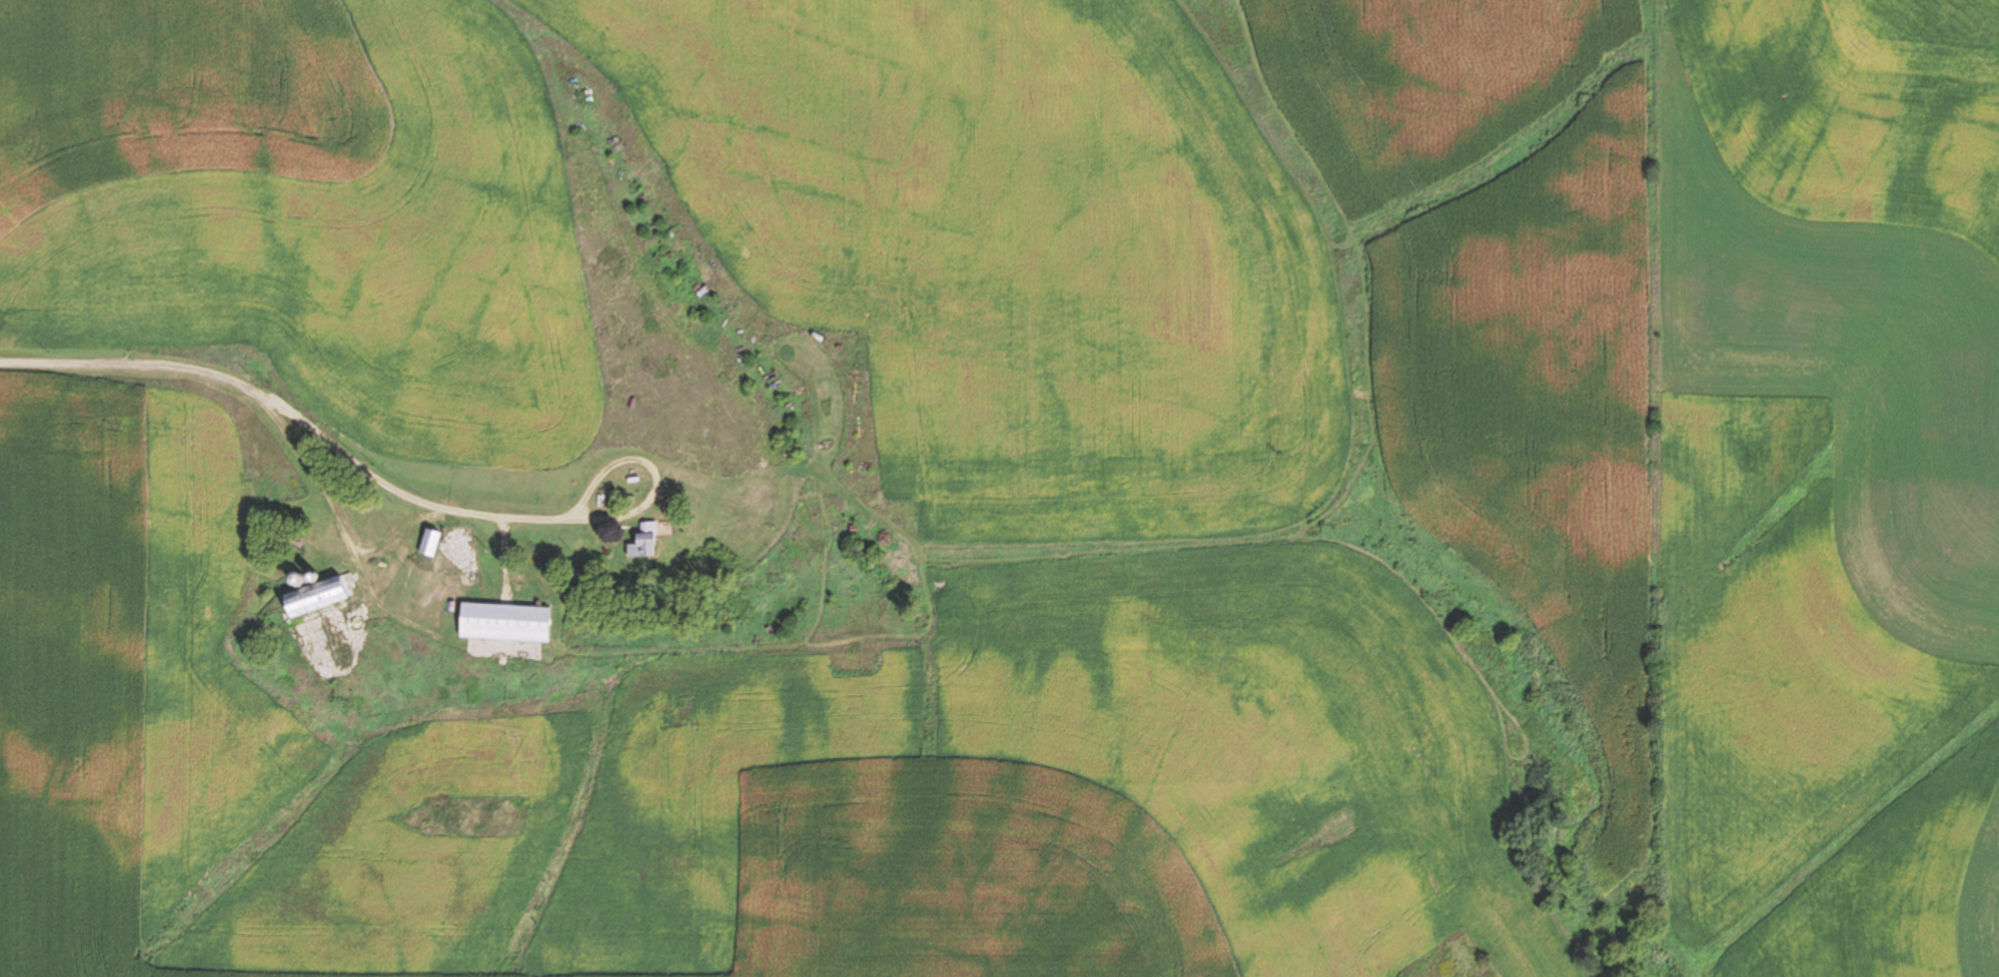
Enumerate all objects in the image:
road: (288, 409)
building: (642, 540)
building: (427, 543)
building: (312, 595)
building: (502, 621)

